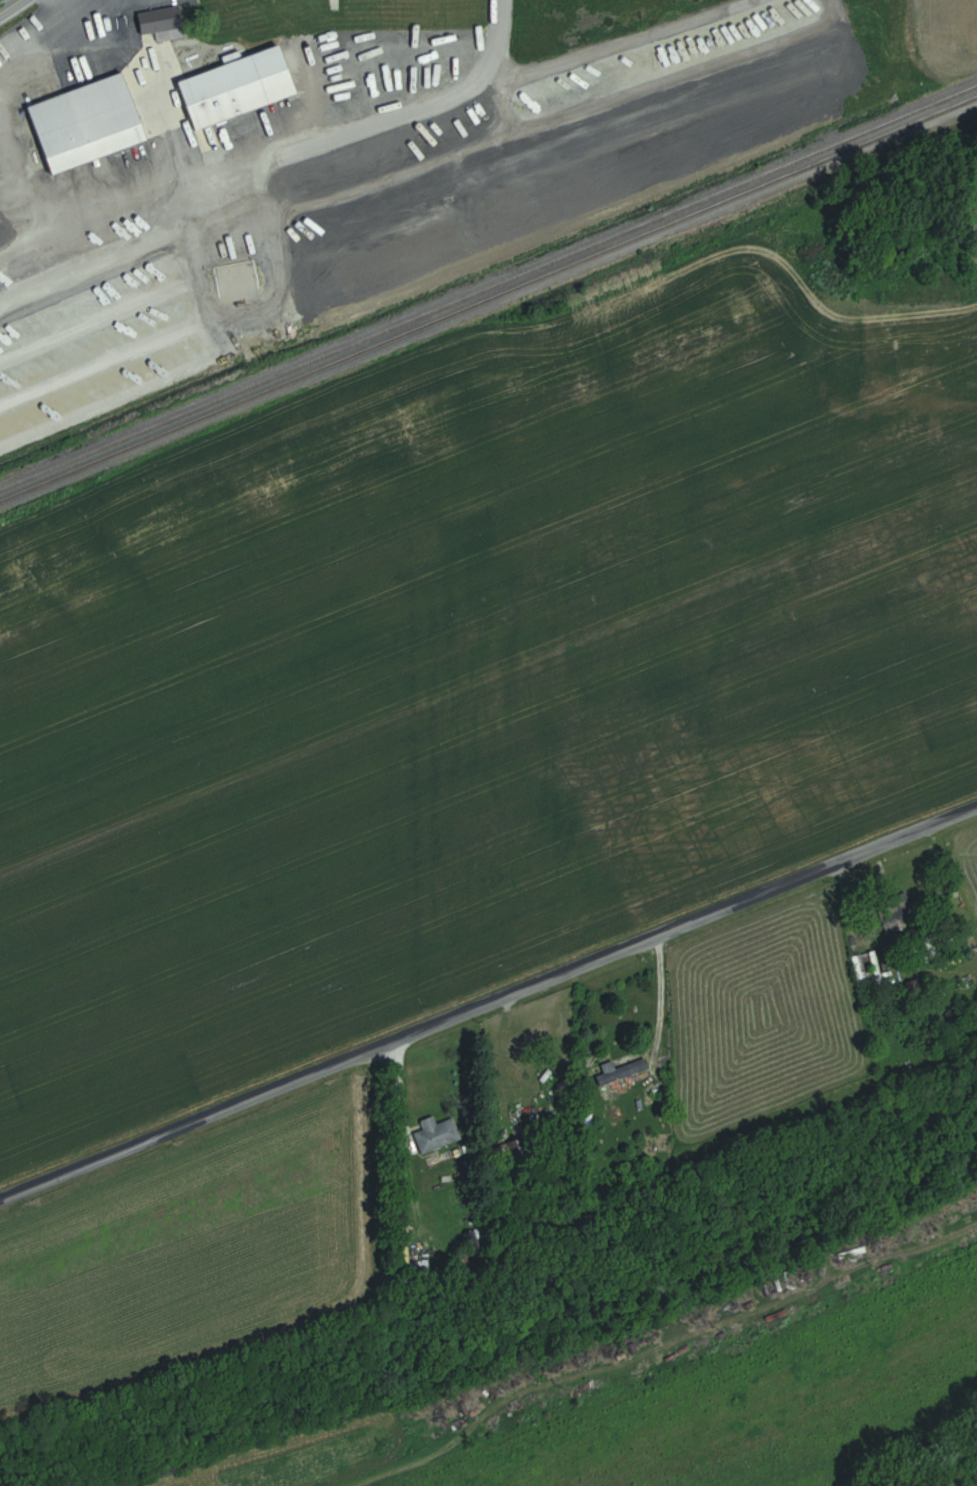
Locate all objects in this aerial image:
road: (7, 6)
building: (166, 23)
road: (611, 45)
road: (60, 50)
building: (242, 86)
building: (91, 123)
road: (241, 173)
road: (553, 175)
road: (16, 240)
railway: (486, 287)
railway: (489, 301)
road: (264, 311)
road: (190, 370)
crop: (487, 729)
building: (896, 920)
building: (867, 967)
road: (656, 996)
road: (487, 997)
road: (397, 1090)
building: (438, 1134)
crop: (202, 1239)
crop: (239, 1475)

